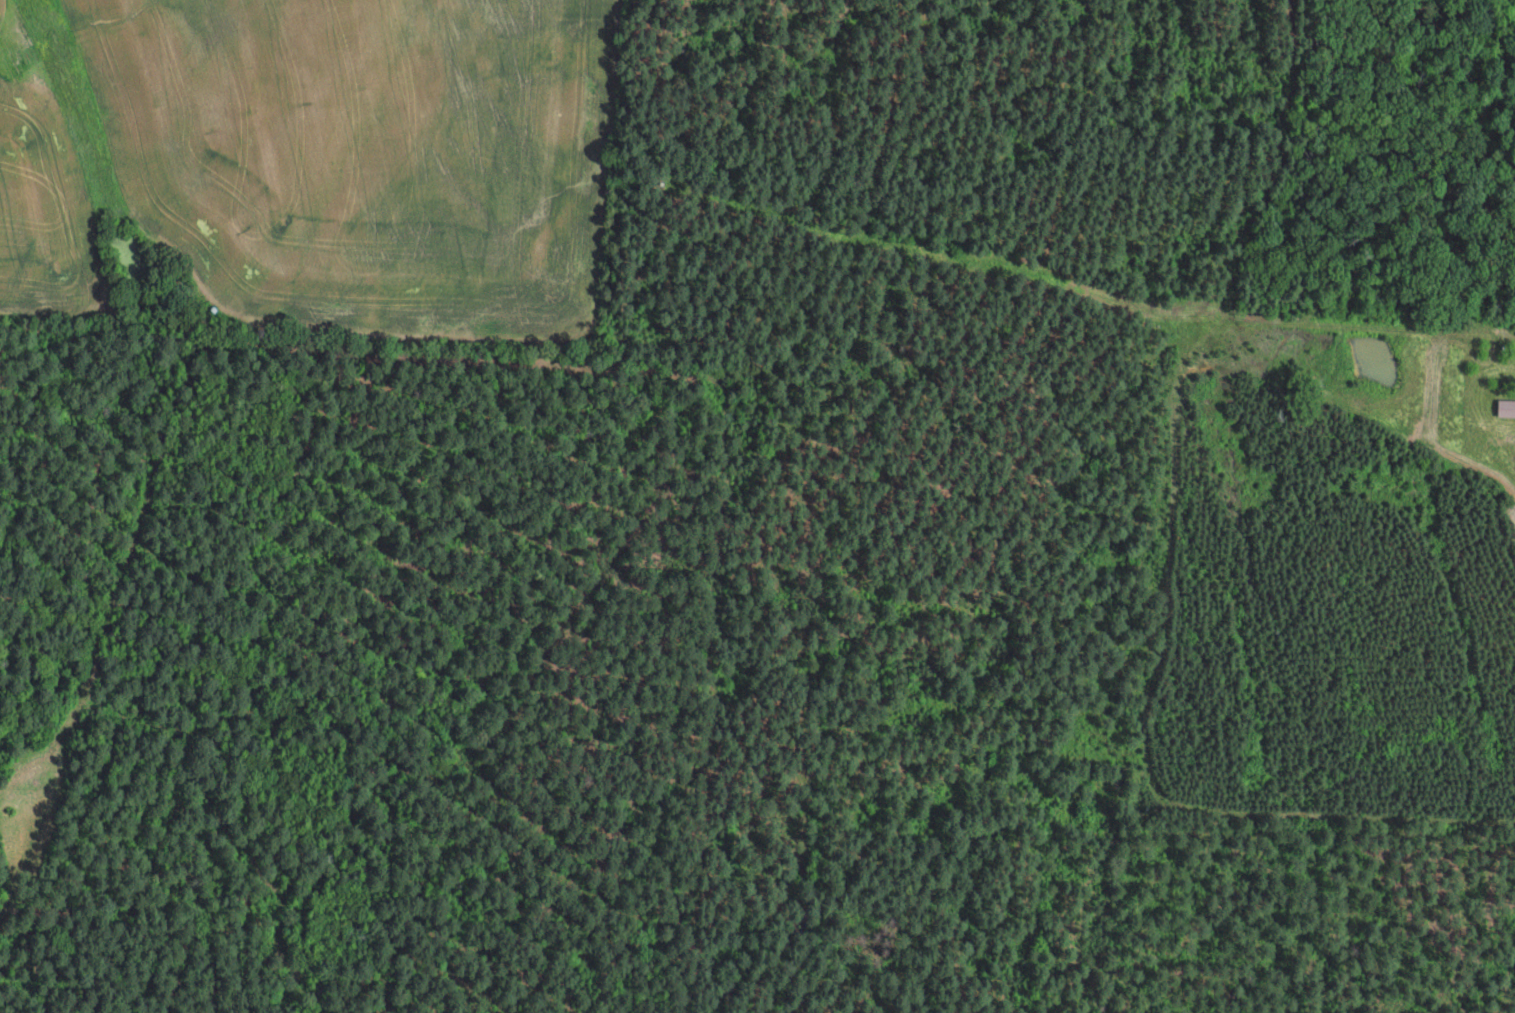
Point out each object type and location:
building: (1508, 408)
road: (2, 872)

